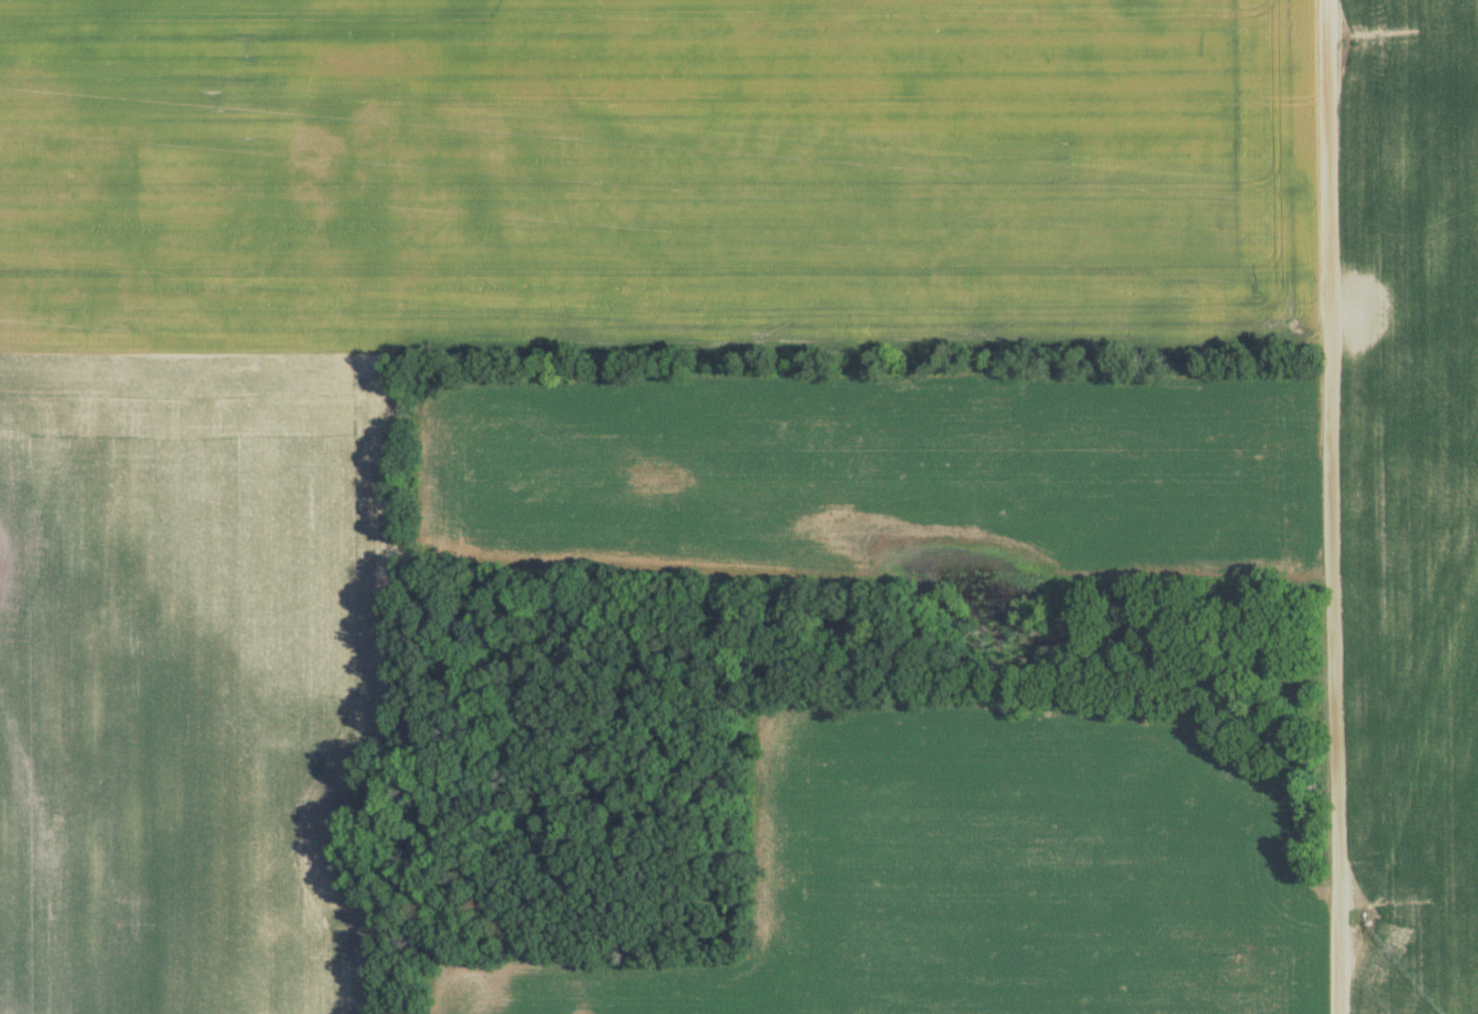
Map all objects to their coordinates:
road: (1333, 507)

